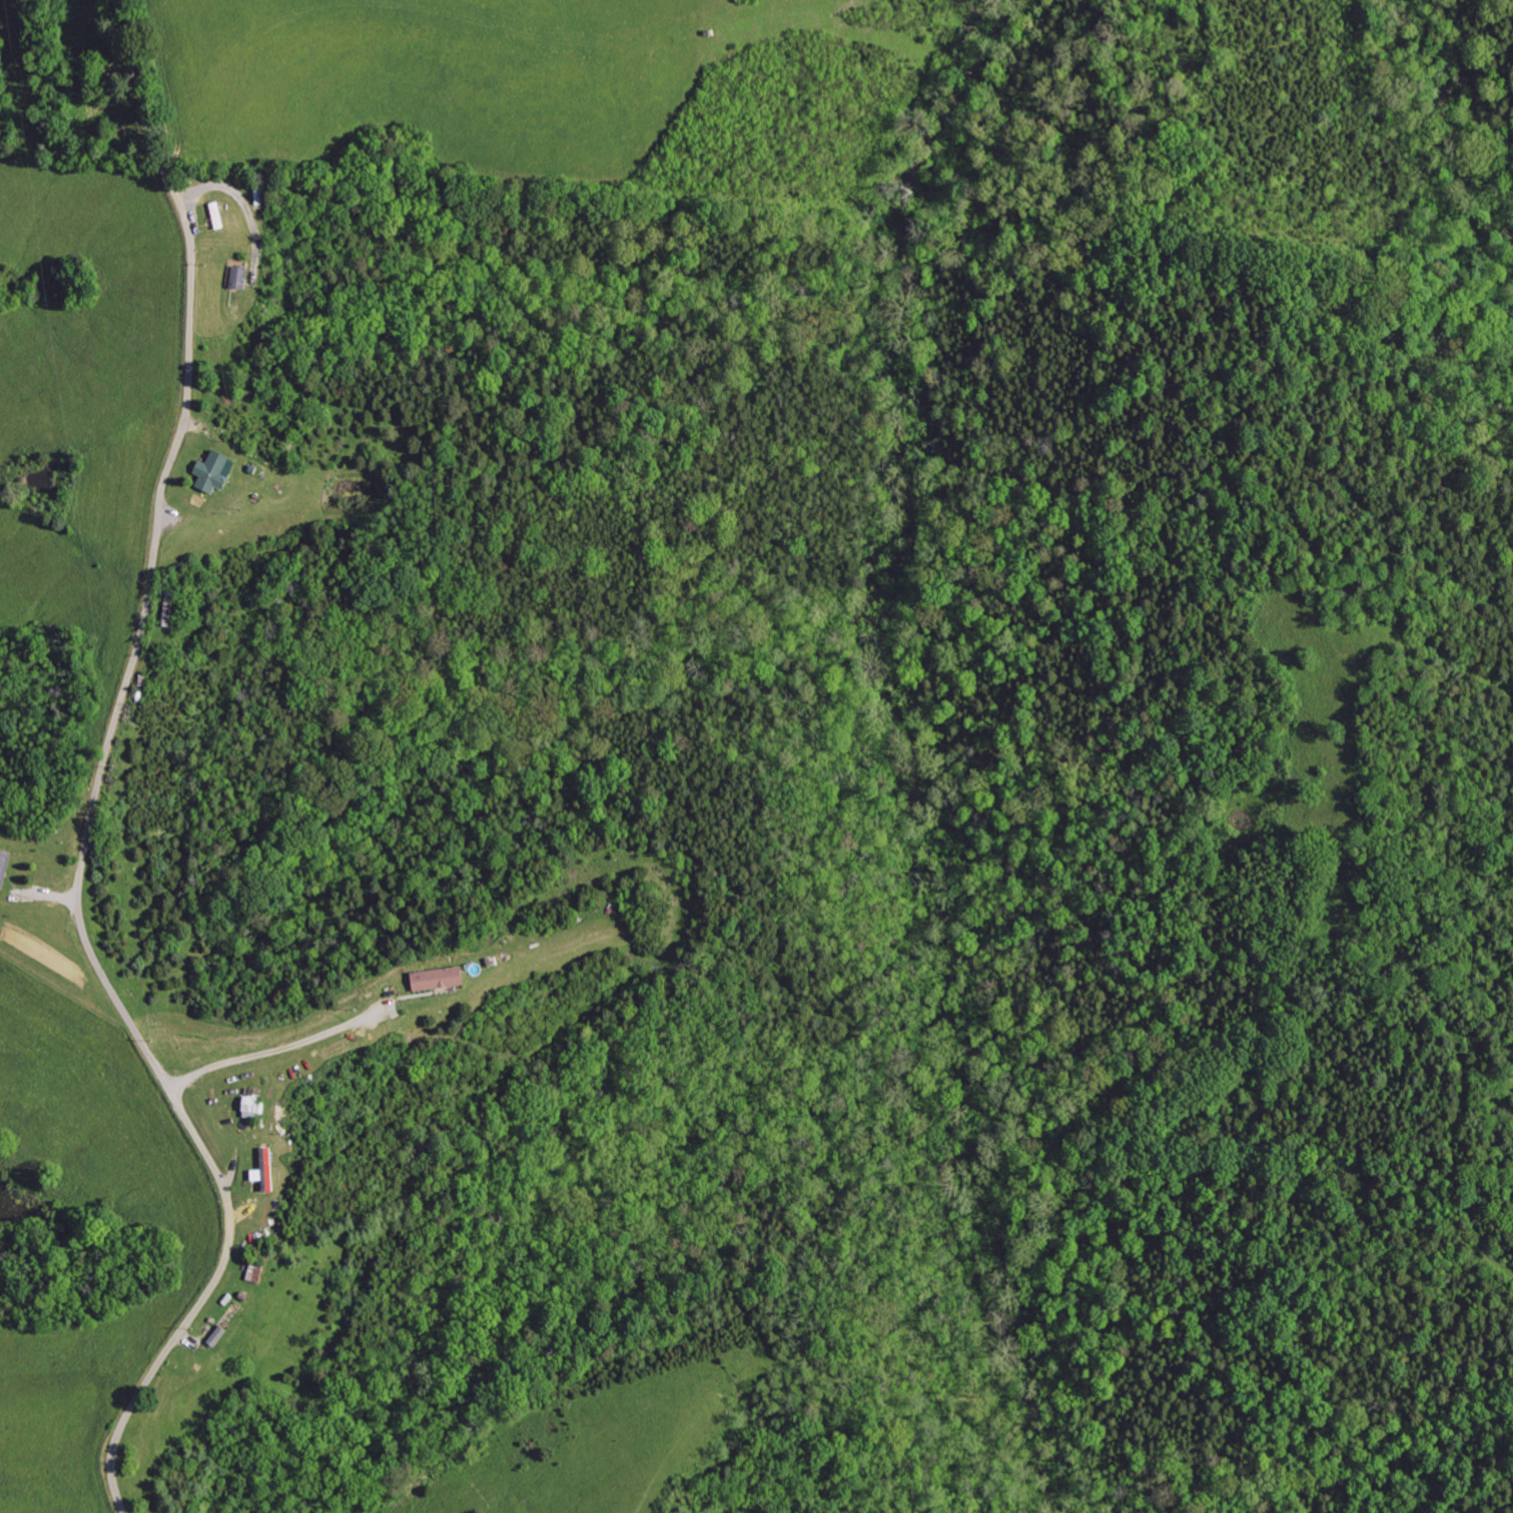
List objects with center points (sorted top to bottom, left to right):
road: (161, 160)
road: (239, 201)
building: (218, 216)
building: (218, 470)
building: (5, 868)
road: (89, 944)
building: (441, 977)
road: (278, 1047)
building: (270, 1169)

